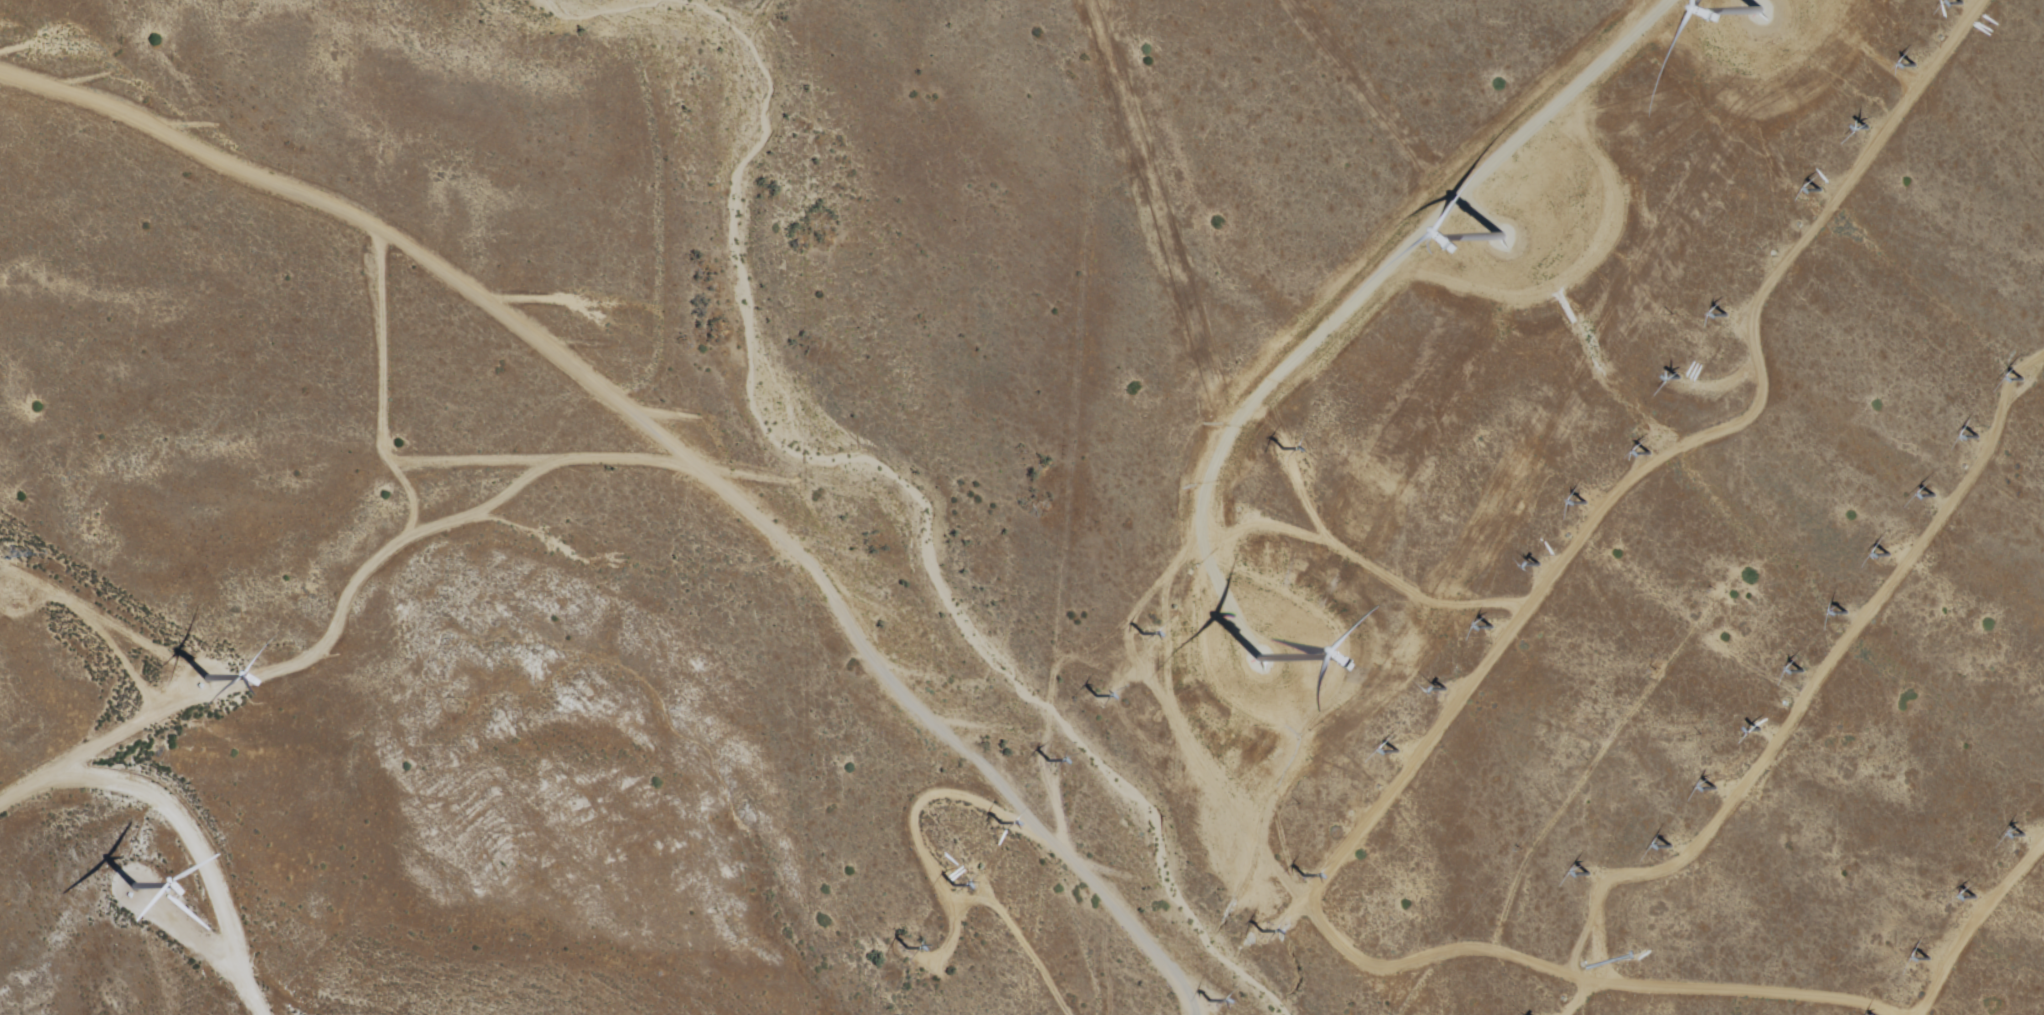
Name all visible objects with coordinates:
wind turbine: (1960, 4)
wind turbine: (1754, 18)
wind turbine: (1913, 65)
road: (1900, 83)
wind turbine: (1867, 127)
wind turbine: (1822, 191)
wind turbine: (1496, 244)
wind turbine: (1774, 254)
wind turbine: (1728, 315)
wind turbine: (1681, 378)
wind turbine: (2028, 380)
wind turbine: (1981, 437)
wind turbine: (1284, 449)
wind turbine: (1647, 454)
wind turbine: (1937, 495)
wind turbine: (1589, 503)
wind turbine: (1890, 554)
wind turbine: (1848, 613)
wind turbine: (1493, 628)
wind turbine: (1144, 633)
wind turbine: (1255, 665)
wind turbine: (1806, 672)
wind turbine: (208, 679)
wind turbine: (1451, 688)
wind turbine: (1096, 697)
wind turbine: (1760, 729)
road: (84, 746)
wind turbine: (1398, 754)
wind turbine: (1043, 764)
wind turbine: (1719, 787)
wind turbine: (1351, 814)
road: (1724, 816)
wind turbine: (999, 824)
wind turbine: (2024, 834)
road: (194, 845)
wind turbine: (1673, 847)
wind turbine: (1587, 873)
wind turbine: (1304, 874)
wind turbine: (952, 885)
wind turbine: (132, 890)
wind turbine: (1972, 897)
road: (1973, 925)
wind turbine: (1264, 933)
wind turbine: (902, 948)
wind turbine: (1926, 959)
wind turbine: (1584, 965)
wind turbine: (1213, 1001)

